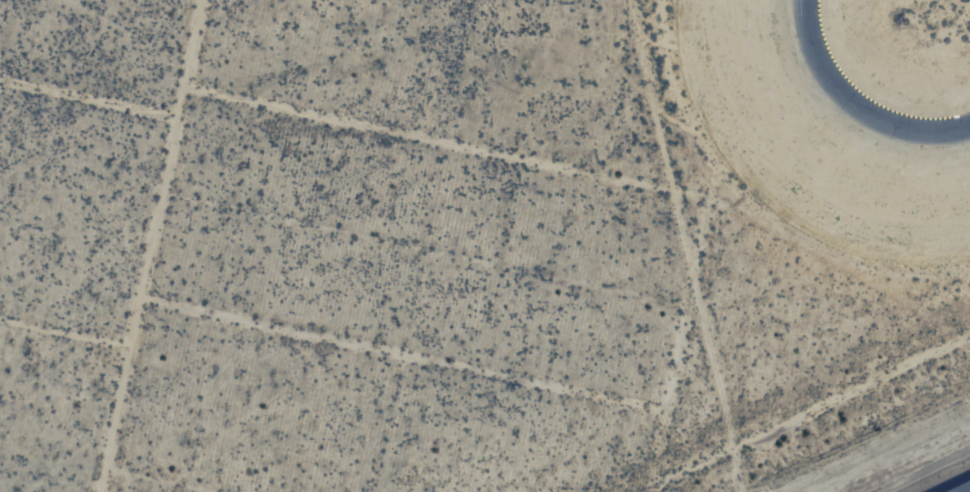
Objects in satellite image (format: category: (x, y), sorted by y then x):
raceway: (803, 43)
raceway: (855, 106)
airport: (859, 437)

